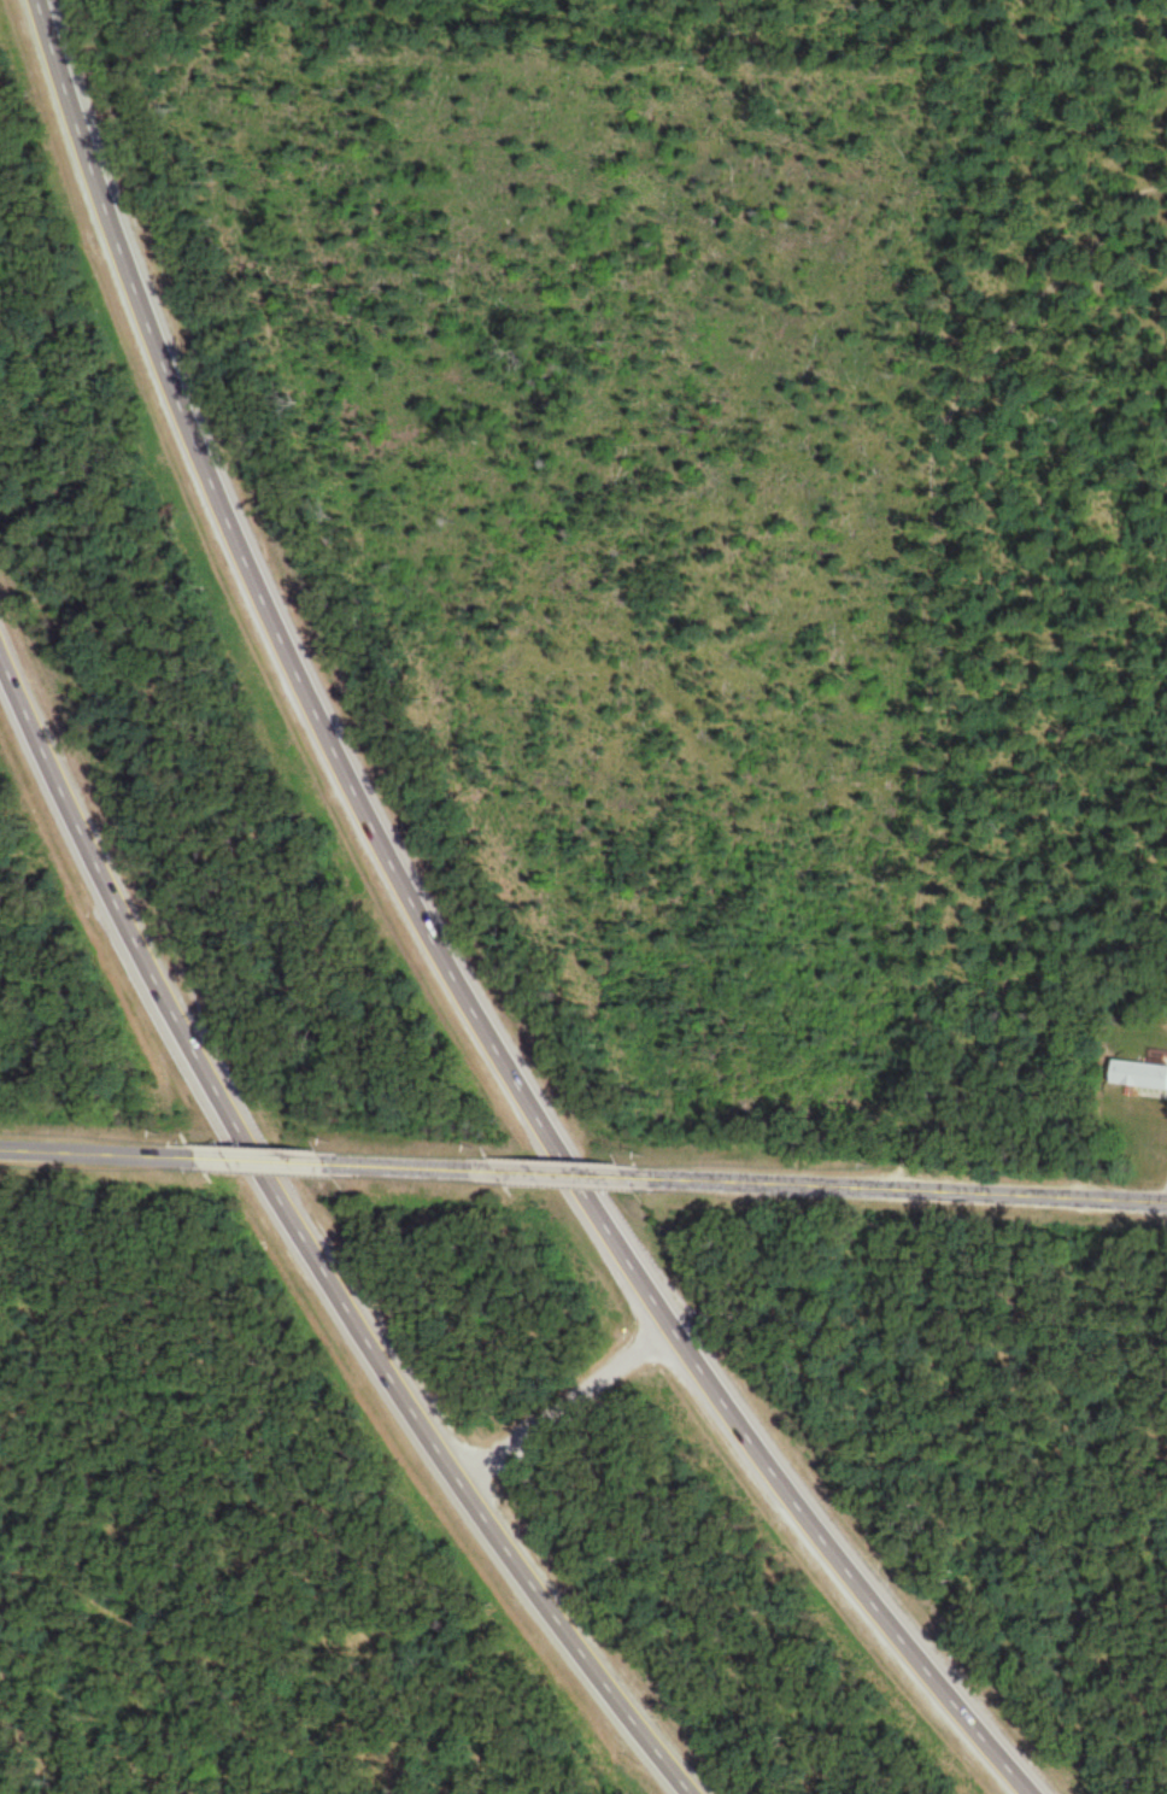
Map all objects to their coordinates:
road: (174, 368)
road: (40, 708)
building: (1137, 1077)
road: (555, 1131)
road: (100, 1148)
road: (264, 1154)
road: (414, 1160)
road: (561, 1166)
road: (893, 1183)
road: (340, 1295)
road: (575, 1406)
road: (928, 1657)
road: (686, 1771)

